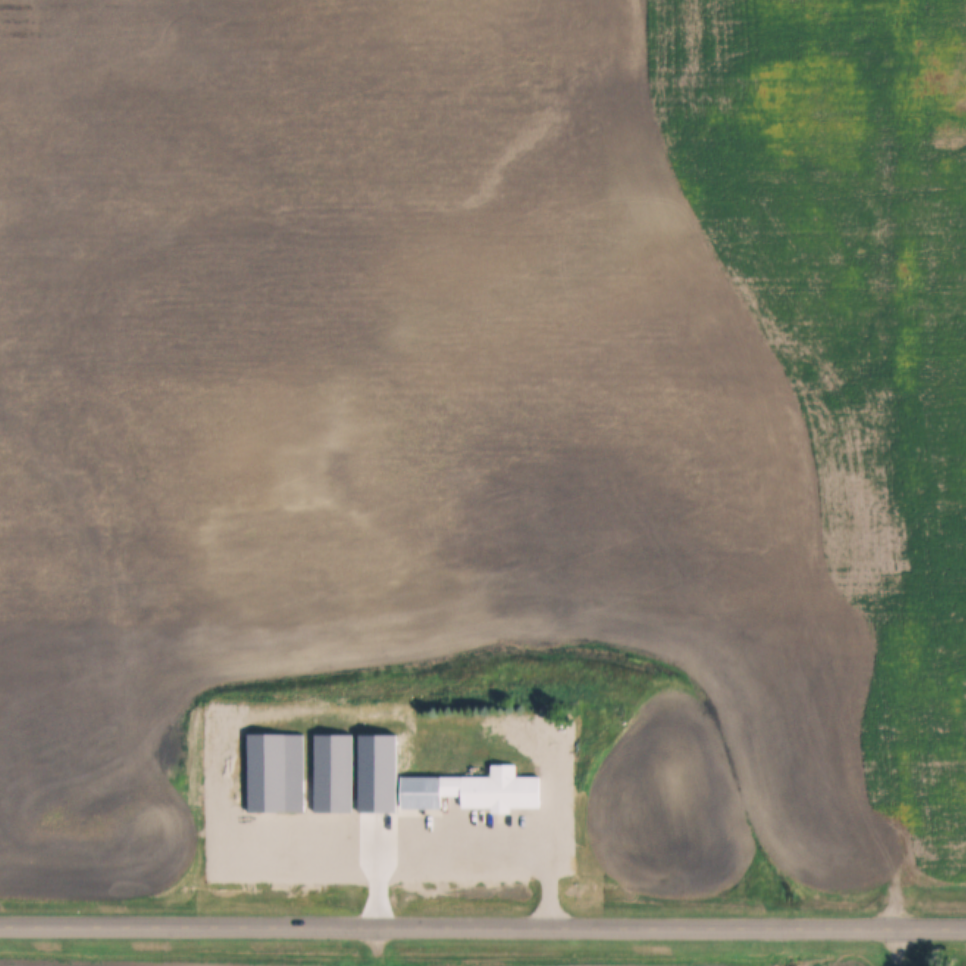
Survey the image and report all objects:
building: (277, 772)
building: (335, 772)
building: (435, 783)
road: (460, 831)
road: (482, 925)

